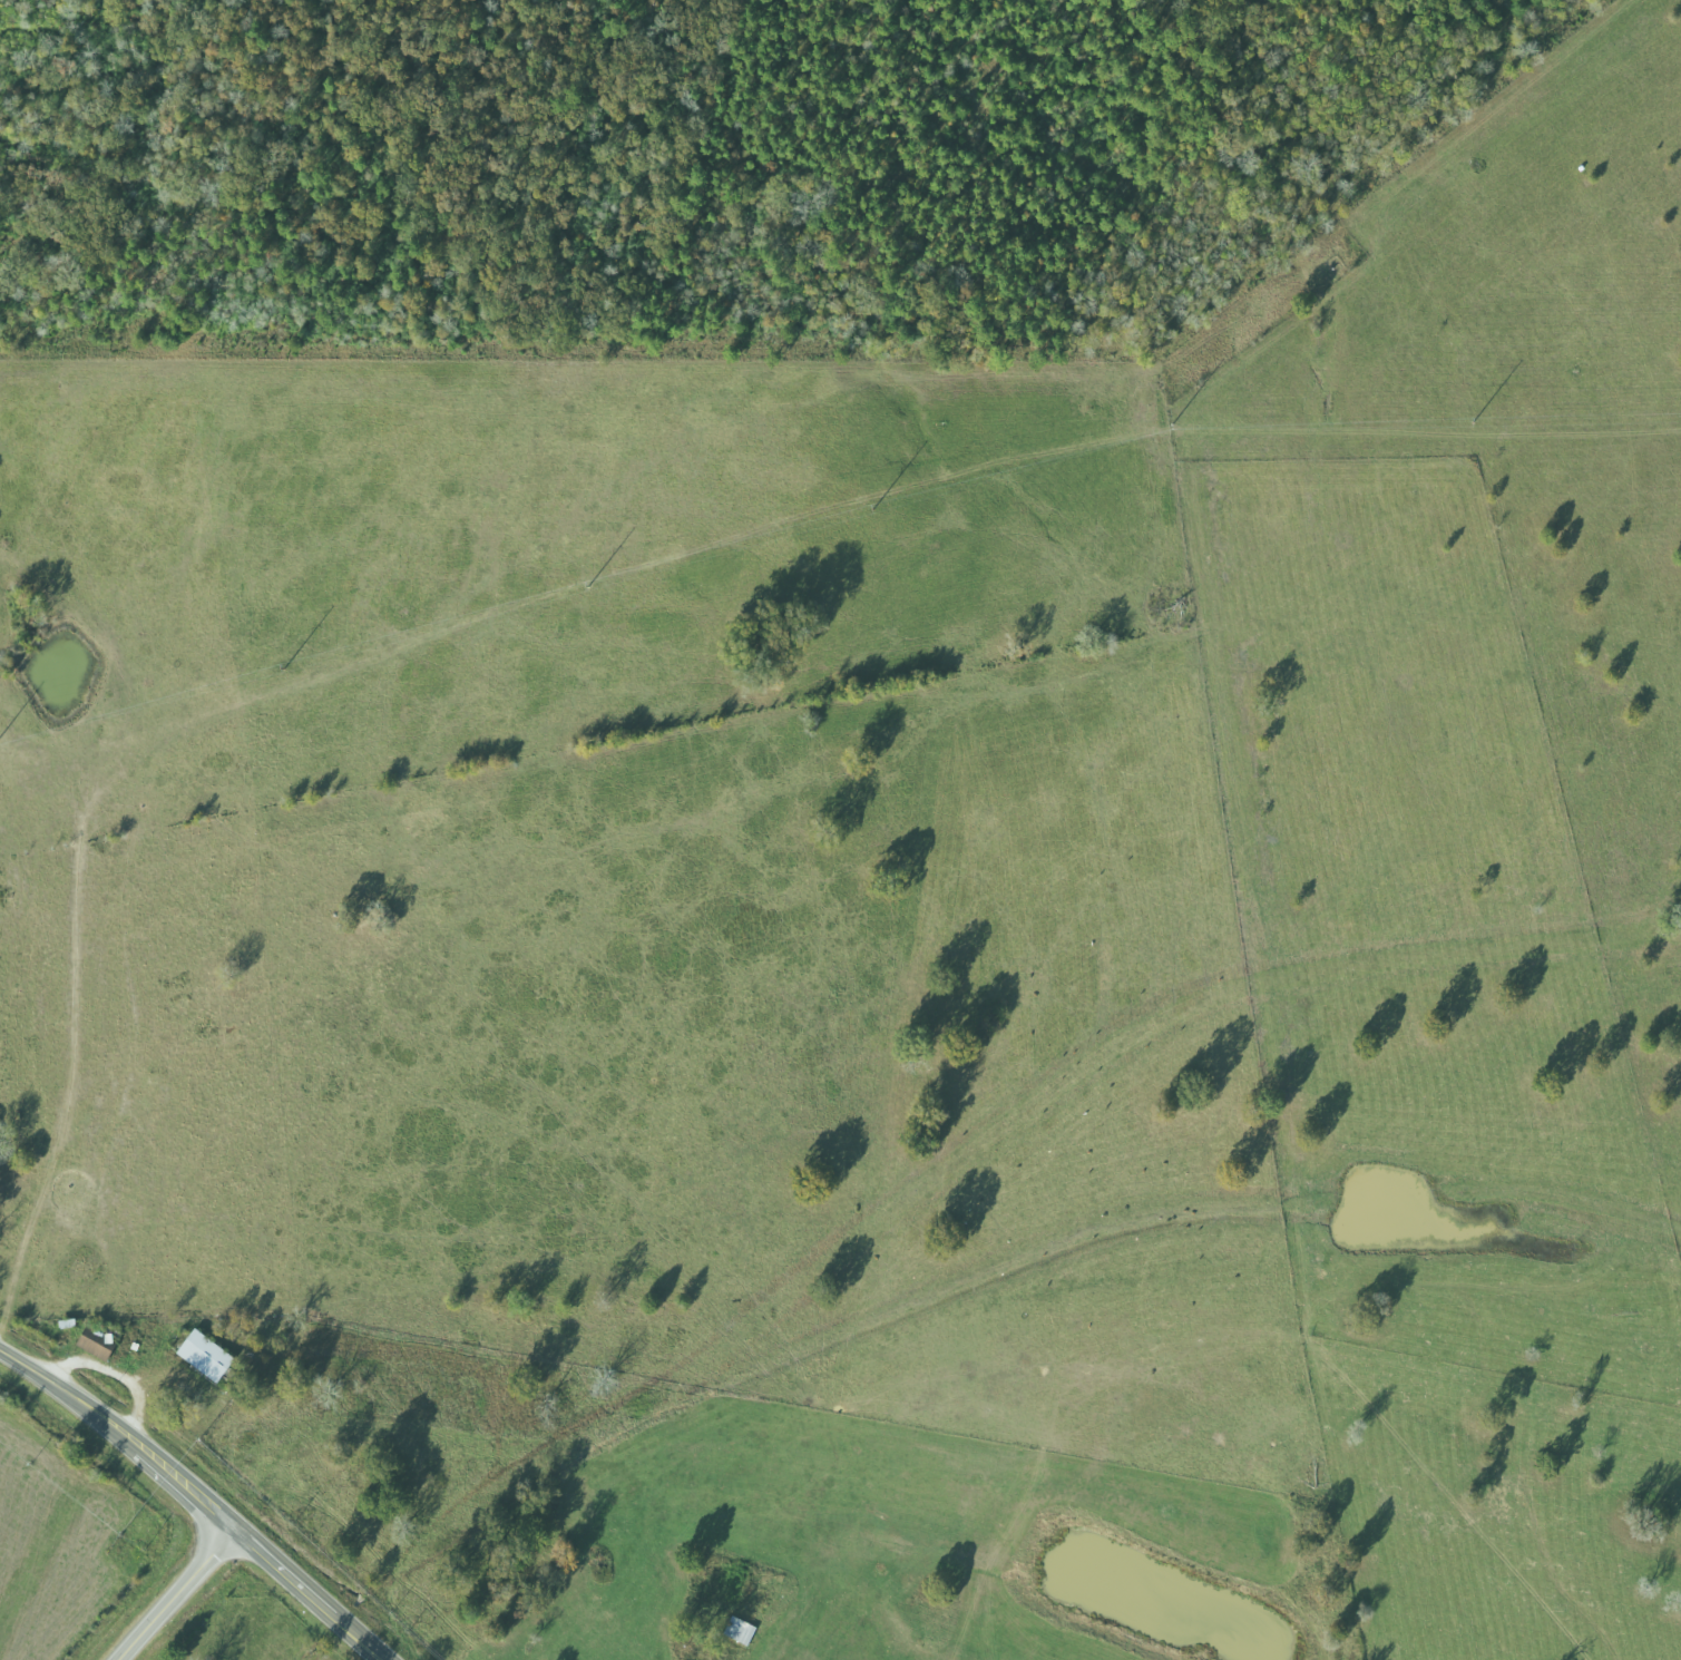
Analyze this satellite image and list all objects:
building: (97, 1347)
building: (209, 1355)
road: (196, 1497)
road: (177, 1594)

